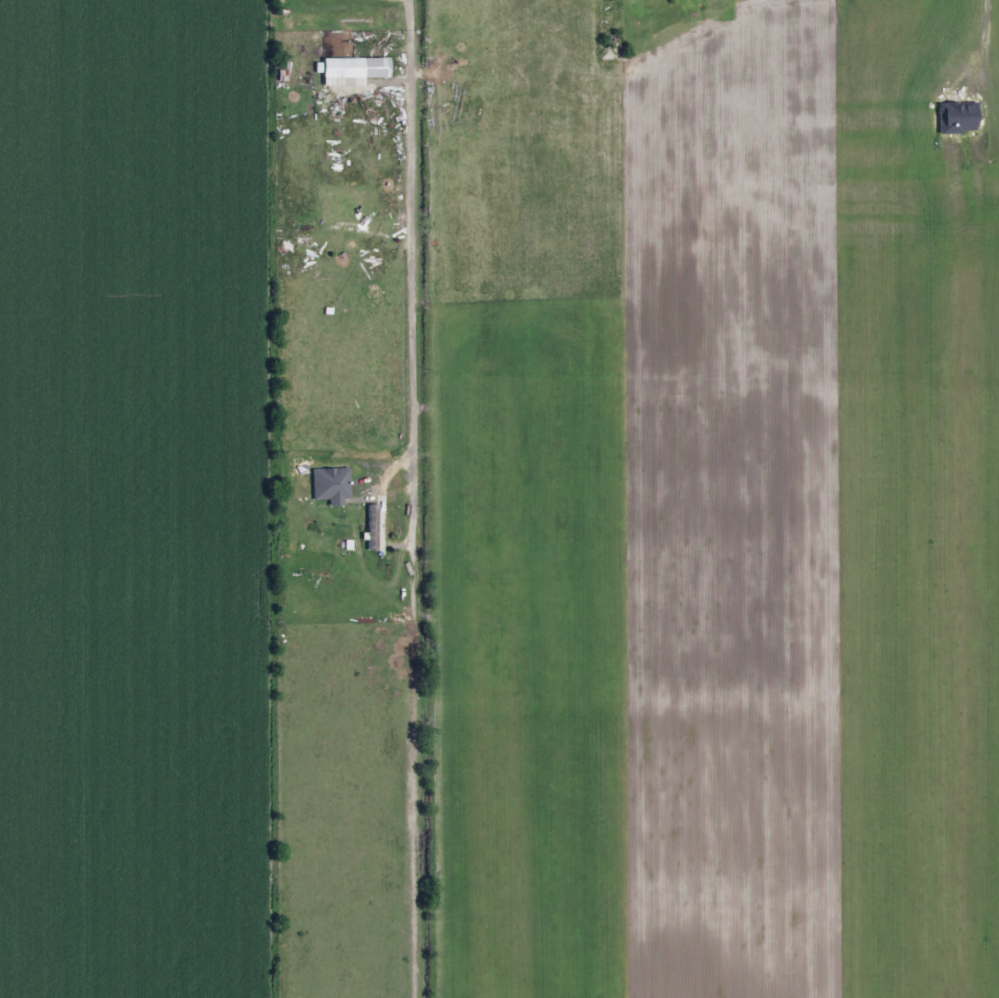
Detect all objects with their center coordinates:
building: (341, 67)
building: (374, 527)
building: (327, 529)

